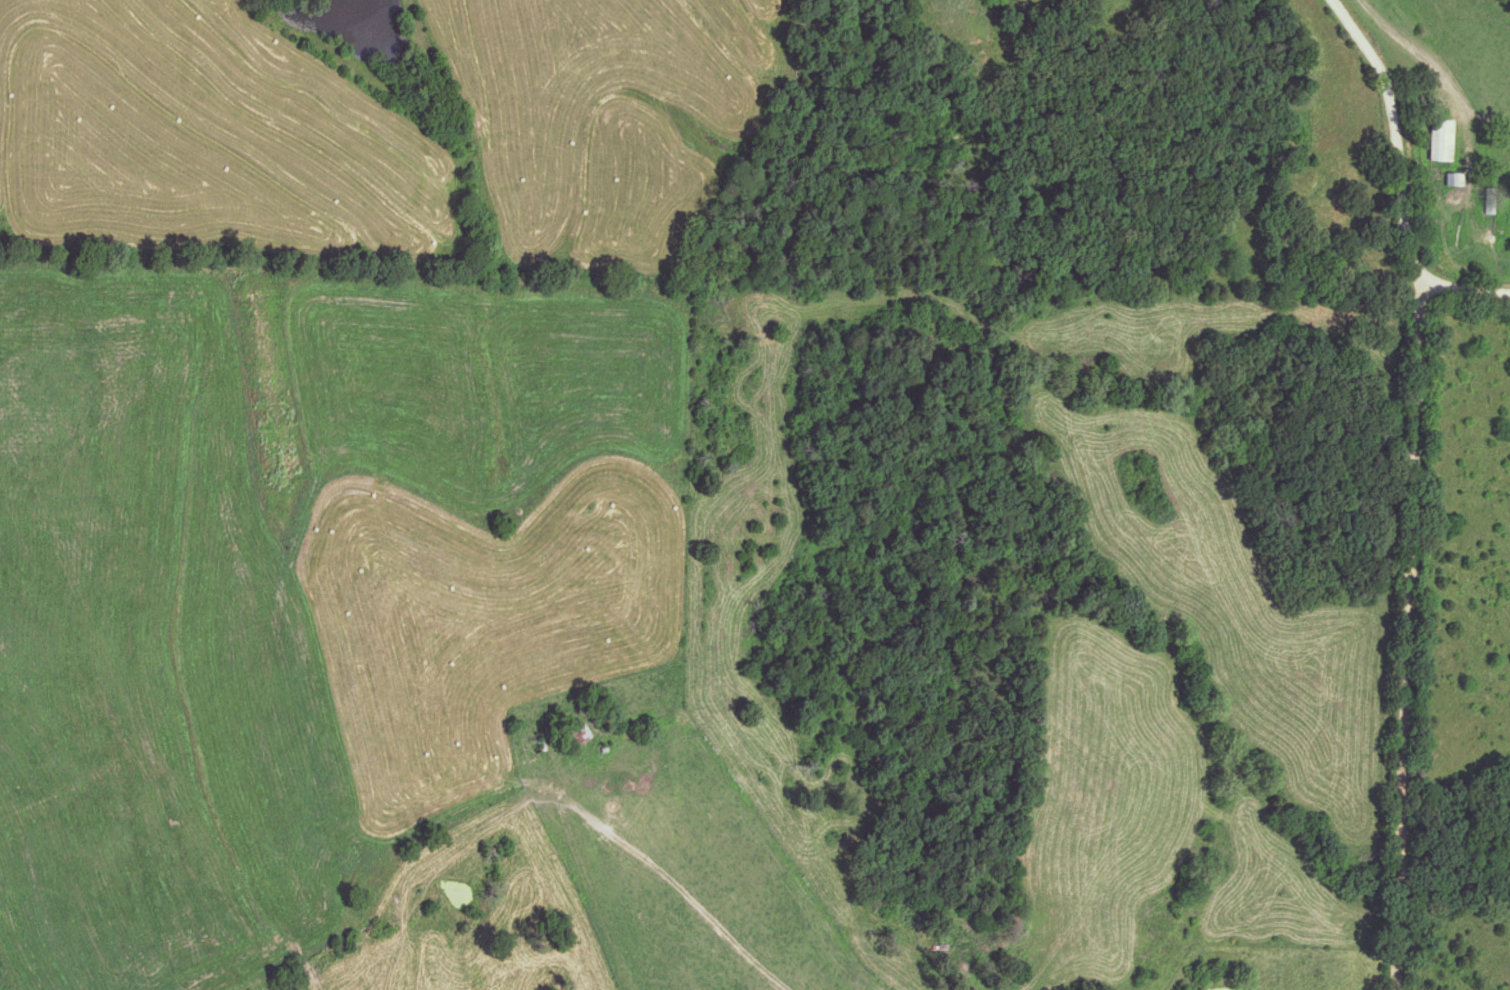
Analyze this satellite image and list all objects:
road: (1391, 131)
building: (1443, 139)
building: (1456, 179)
road: (1462, 286)
road: (1410, 633)
building: (583, 734)

